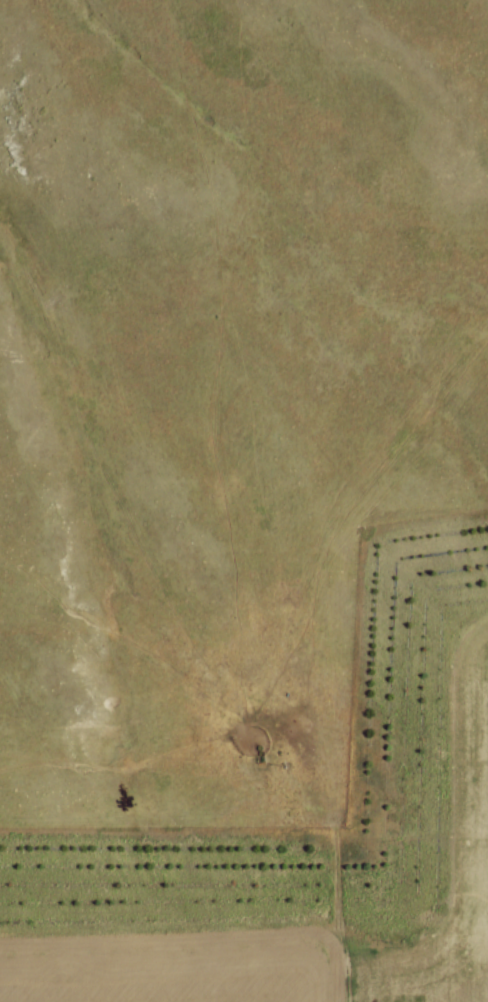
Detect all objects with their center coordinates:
crop: (463, 756)

